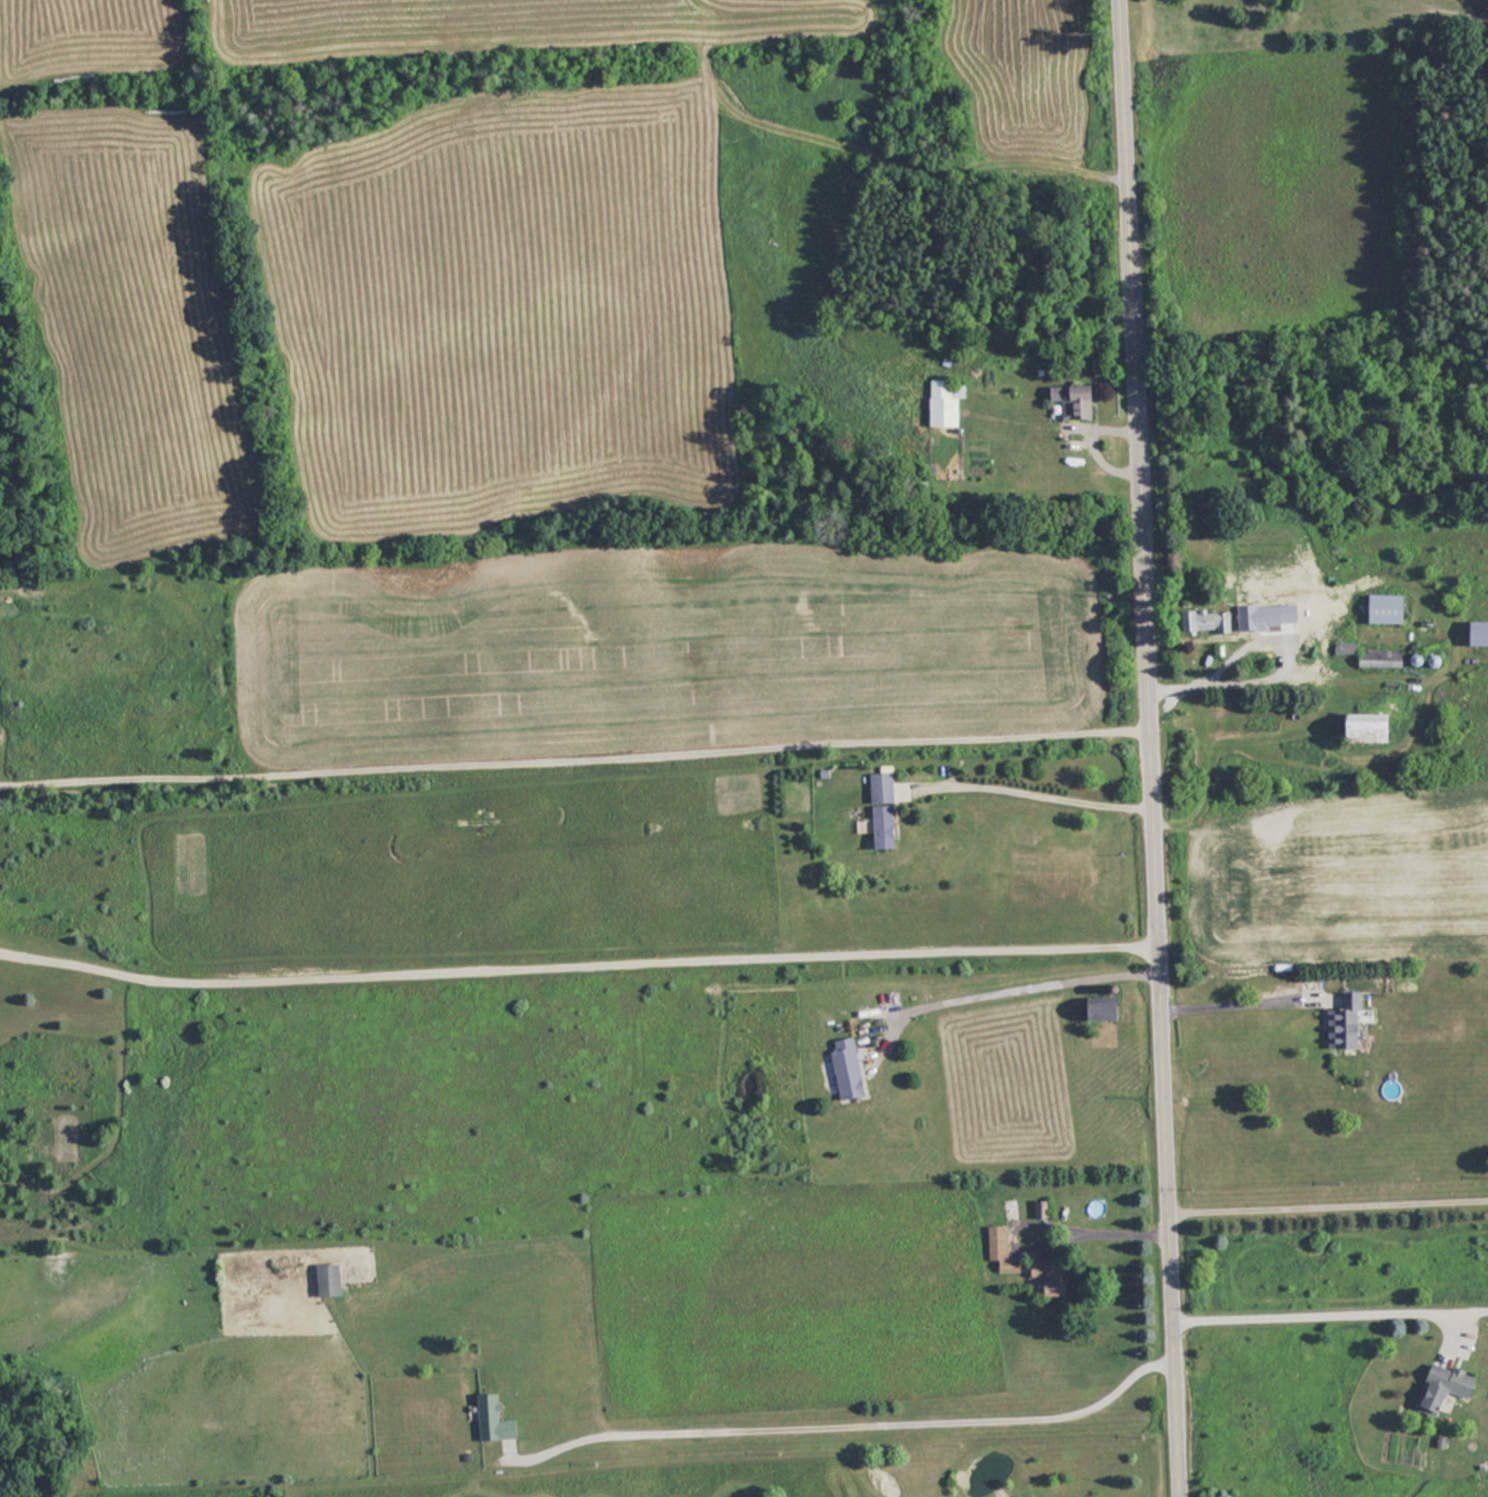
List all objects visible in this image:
building: (1077, 401)
building: (945, 403)
building: (1390, 609)
building: (1214, 621)
building: (1481, 634)
road: (1269, 676)
building: (1376, 728)
road: (1154, 748)
road: (576, 754)
road: (1041, 788)
building: (887, 811)
road: (580, 958)
road: (1017, 990)
road: (1243, 995)
building: (1107, 1009)
building: (1349, 1022)
building: (850, 1069)
road: (1331, 1196)
road: (1051, 1217)
building: (1002, 1250)
building: (1054, 1276)
building: (331, 1281)
road: (1330, 1304)
building: (1446, 1386)
building: (497, 1419)
road: (861, 1419)

